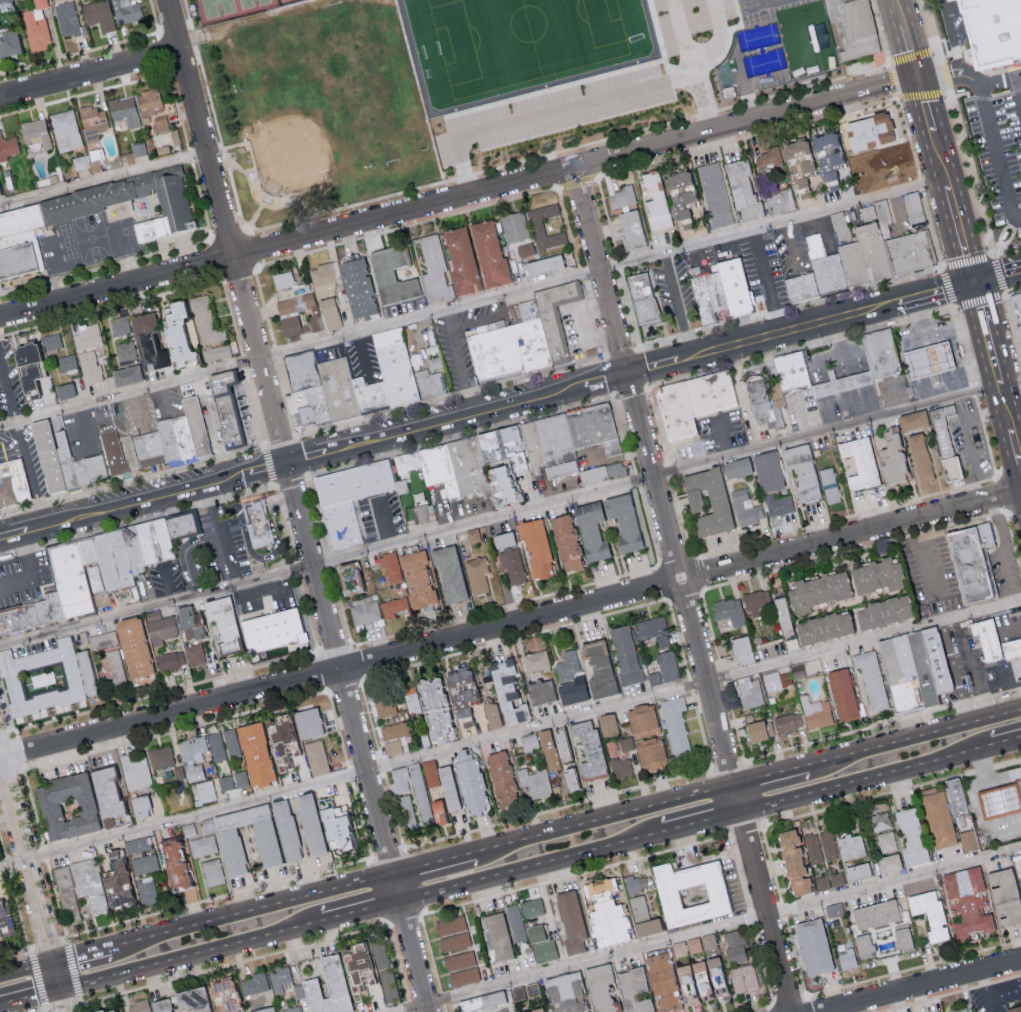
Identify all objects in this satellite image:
park: (285, 1)
building: (5, 3)
park: (229, 9)
building: (127, 10)
road: (901, 11)
building: (99, 14)
building: (67, 18)
building: (35, 26)
building: (996, 30)
building: (853, 33)
road: (825, 36)
building: (8, 42)
parking lot: (766, 44)
road: (911, 51)
road: (734, 62)
road: (90, 75)
traffic signals: (918, 79)
road: (1002, 81)
building: (148, 101)
road: (577, 104)
road: (925, 104)
park: (312, 105)
park: (319, 109)
building: (123, 110)
building: (91, 118)
road: (992, 119)
building: (159, 123)
parking lot: (991, 128)
building: (64, 130)
building: (867, 130)
building: (35, 131)
building: (8, 146)
building: (138, 148)
building: (824, 153)
building: (788, 162)
building: (890, 162)
building: (875, 178)
road: (103, 179)
building: (860, 180)
building: (742, 191)
building: (678, 192)
building: (715, 194)
building: (173, 195)
building: (621, 197)
building: (89, 198)
building: (654, 200)
road: (459, 201)
building: (778, 201)
road: (953, 205)
building: (917, 206)
road: (896, 210)
building: (19, 218)
road: (587, 222)
building: (536, 224)
building: (514, 226)
road: (821, 228)
building: (629, 230)
road: (790, 244)
building: (909, 246)
building: (525, 248)
building: (862, 249)
building: (474, 255)
road: (699, 255)
building: (16, 259)
building: (542, 264)
building: (433, 270)
building: (390, 274)
building: (817, 274)
road: (997, 276)
building: (282, 279)
building: (322, 280)
road: (768, 281)
traffic signals: (974, 283)
building: (356, 286)
building: (739, 286)
building: (721, 297)
building: (310, 301)
building: (706, 301)
road: (473, 304)
building: (285, 305)
road: (680, 305)
road: (878, 308)
building: (648, 309)
building: (1017, 310)
building: (329, 312)
building: (558, 318)
building: (205, 320)
building: (316, 323)
road: (614, 323)
road: (476, 324)
building: (119, 325)
road: (935, 329)
building: (175, 332)
building: (51, 340)
building: (147, 341)
parking lot: (464, 341)
building: (534, 345)
building: (125, 350)
road: (363, 351)
building: (215, 352)
building: (496, 354)
building: (881, 354)
road: (706, 355)
road: (992, 356)
building: (419, 360)
building: (930, 361)
gas station: (930, 361)
building: (67, 362)
road: (457, 364)
road: (958, 365)
building: (26, 366)
building: (90, 367)
building: (431, 368)
building: (303, 369)
building: (791, 372)
building: (126, 374)
building: (400, 374)
building: (841, 384)
road: (945, 384)
building: (341, 388)
building: (64, 390)
building: (716, 391)
building: (372, 395)
road: (166, 397)
road: (548, 397)
road: (891, 397)
road: (751, 398)
building: (768, 405)
building: (317, 407)
building: (230, 408)
building: (680, 410)
road: (108, 413)
road: (146, 413)
road: (803, 415)
building: (911, 419)
road: (84, 425)
building: (199, 427)
building: (597, 427)
road: (639, 427)
road: (836, 429)
road: (966, 437)
building: (171, 438)
road: (722, 438)
building: (186, 439)
road: (981, 439)
building: (943, 440)
road: (22, 441)
building: (156, 443)
road: (11, 445)
building: (536, 445)
building: (560, 445)
building: (143, 447)
road: (1016, 447)
building: (120, 454)
building: (919, 455)
building: (50, 456)
building: (890, 457)
road: (614, 459)
building: (506, 461)
building: (858, 462)
building: (474, 465)
building: (444, 467)
building: (735, 467)
building: (766, 470)
building: (87, 471)
building: (800, 471)
building: (606, 474)
road: (234, 479)
building: (13, 484)
building: (828, 484)
building: (352, 499)
building: (716, 500)
building: (778, 505)
road: (299, 506)
building: (744, 507)
building: (423, 514)
building: (622, 521)
building: (260, 523)
building: (186, 525)
road: (382, 525)
building: (590, 530)
road: (224, 535)
building: (472, 535)
building: (502, 539)
building: (158, 541)
building: (565, 542)
building: (535, 546)
building: (136, 549)
road: (1002, 552)
road: (269, 555)
road: (917, 559)
building: (116, 560)
road: (325, 560)
building: (93, 563)
building: (512, 564)
building: (975, 564)
building: (390, 567)
building: (448, 573)
road: (29, 574)
building: (477, 575)
building: (875, 575)
building: (348, 576)
building: (416, 578)
parking lot: (23, 580)
building: (74, 581)
building: (817, 590)
building: (757, 603)
building: (392, 606)
building: (729, 610)
building: (365, 611)
building: (881, 611)
building: (780, 612)
building: (34, 615)
building: (222, 622)
building: (189, 623)
building: (159, 626)
road: (510, 627)
building: (650, 627)
building: (821, 627)
building: (272, 633)
building: (102, 639)
building: (988, 640)
building: (661, 641)
building: (740, 649)
building: (1012, 649)
building: (133, 651)
building: (193, 654)
building: (624, 654)
road: (966, 655)
building: (942, 659)
building: (170, 660)
building: (536, 660)
building: (114, 665)
building: (667, 665)
building: (927, 668)
building: (598, 669)
building: (86, 672)
road: (957, 672)
building: (904, 677)
building: (569, 678)
building: (654, 678)
building: (775, 680)
building: (870, 680)
building: (539, 691)
building: (506, 692)
building: (749, 693)
building: (841, 694)
building: (460, 696)
building: (384, 706)
building: (428, 709)
building: (816, 712)
building: (491, 714)
building: (641, 717)
building: (307, 722)
building: (787, 722)
building: (606, 724)
building: (674, 724)
building: (394, 730)
building: (755, 731)
road: (510, 734)
road: (919, 737)
building: (529, 742)
building: (278, 743)
road: (721, 745)
building: (217, 746)
building: (392, 747)
building: (552, 747)
building: (191, 748)
road: (1002, 748)
building: (650, 754)
building: (584, 755)
building: (161, 756)
building: (246, 756)
building: (316, 757)
building: (621, 767)
building: (135, 770)
building: (193, 771)
road: (775, 776)
building: (501, 777)
building: (441, 782)
building: (469, 782)
building: (534, 783)
road: (861, 783)
building: (206, 790)
building: (105, 791)
road: (891, 791)
building: (1004, 800)
building: (66, 806)
building: (139, 806)
building: (407, 812)
building: (965, 815)
road: (605, 820)
building: (877, 822)
building: (309, 823)
building: (945, 823)
building: (331, 825)
road: (696, 825)
building: (189, 828)
road: (745, 829)
building: (285, 830)
building: (909, 837)
building: (885, 841)
building: (137, 844)
building: (827, 844)
building: (203, 845)
building: (849, 846)
building: (229, 847)
building: (813, 848)
building: (888, 862)
road: (26, 863)
building: (145, 863)
road: (438, 863)
road: (771, 864)
building: (792, 864)
building: (174, 865)
road: (529, 870)
building: (212, 871)
road: (739, 872)
building: (855, 872)
road: (575, 874)
building: (829, 880)
building: (635, 883)
building: (91, 884)
building: (147, 891)
building: (689, 892)
building: (65, 894)
building: (1003, 897)
building: (966, 901)
building: (531, 907)
road: (782, 909)
building: (833, 909)
road: (257, 910)
building: (874, 913)
building: (606, 914)
building: (928, 914)
road: (359, 915)
building: (642, 917)
road: (751, 917)
road: (404, 919)
building: (570, 922)
building: (4, 925)
building: (450, 925)
building: (521, 927)
road: (706, 930)
building: (497, 936)
building: (902, 938)
building: (708, 940)
building: (454, 941)
building: (862, 945)
building: (685, 947)
building: (733, 947)
building: (811, 947)
building: (543, 951)
road: (431, 952)
road: (85, 954)
road: (795, 956)
road: (187, 959)
building: (846, 959)
building: (458, 960)
road: (398, 961)
road: (236, 962)
traffic signals: (52, 963)
road: (763, 964)
road: (913, 968)
road: (26, 970)
building: (384, 970)
building: (356, 974)
building: (463, 976)
road: (55, 977)
building: (279, 978)
building: (701, 978)
building: (743, 978)
building: (661, 982)
building: (253, 983)
road: (922, 984)
building: (326, 987)
building: (599, 988)
road: (1000, 988)
building: (632, 990)
road: (984, 990)
traffic signals: (60, 992)
building: (516, 993)
building: (564, 993)
road: (948, 993)
building: (224, 996)
road: (442, 997)
road: (30, 1000)
building: (191, 1000)
road: (789, 1000)
road: (62, 1002)
building: (480, 1002)
road: (63, 1003)
road: (84, 1004)
road: (807, 1004)
road: (409, 1005)
building: (149, 1006)
road: (444, 1008)
road: (759, 1008)
road: (774, 1008)
building: (263, 1009)
building: (291, 1009)
road: (45, 1010)
building: (534, 1010)
building: (959, 1010)
building: (108, 1011)
building: (1018, 1011)

